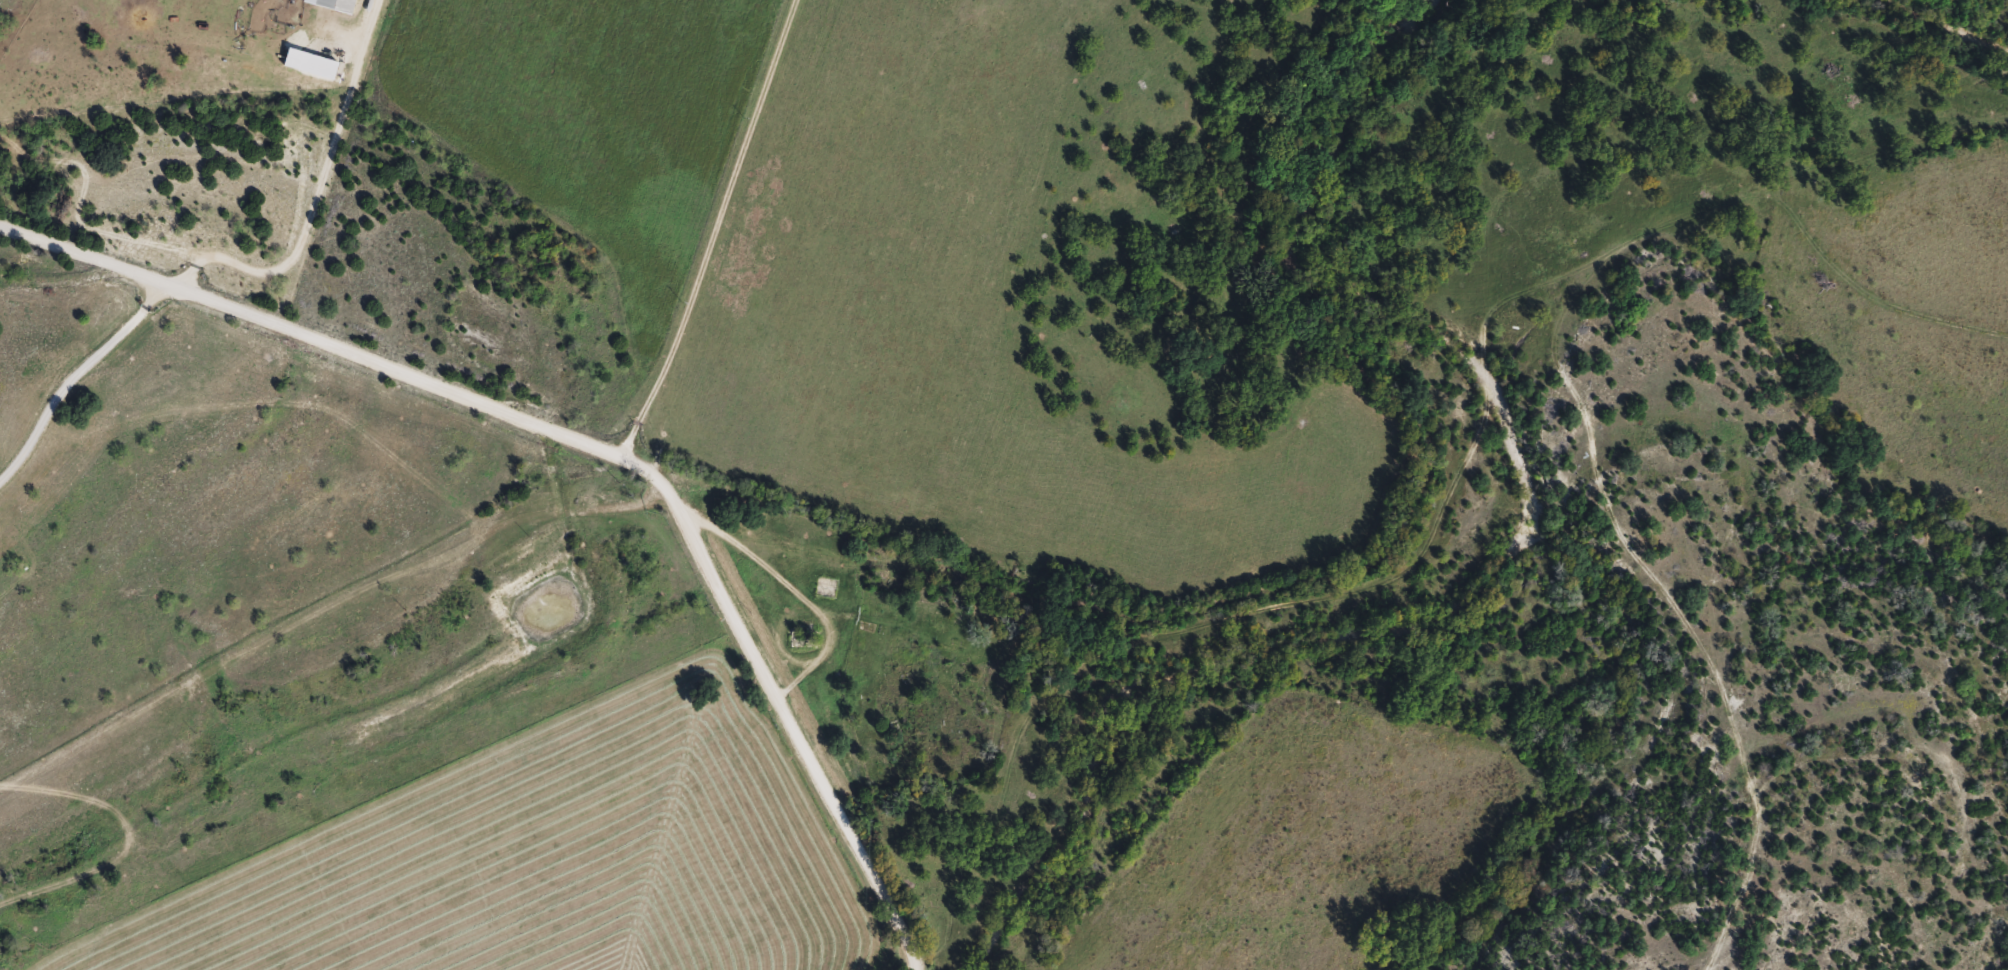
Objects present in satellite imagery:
road: (342, 357)
building: (829, 589)
road: (334, 670)
park: (932, 688)
road: (789, 738)

